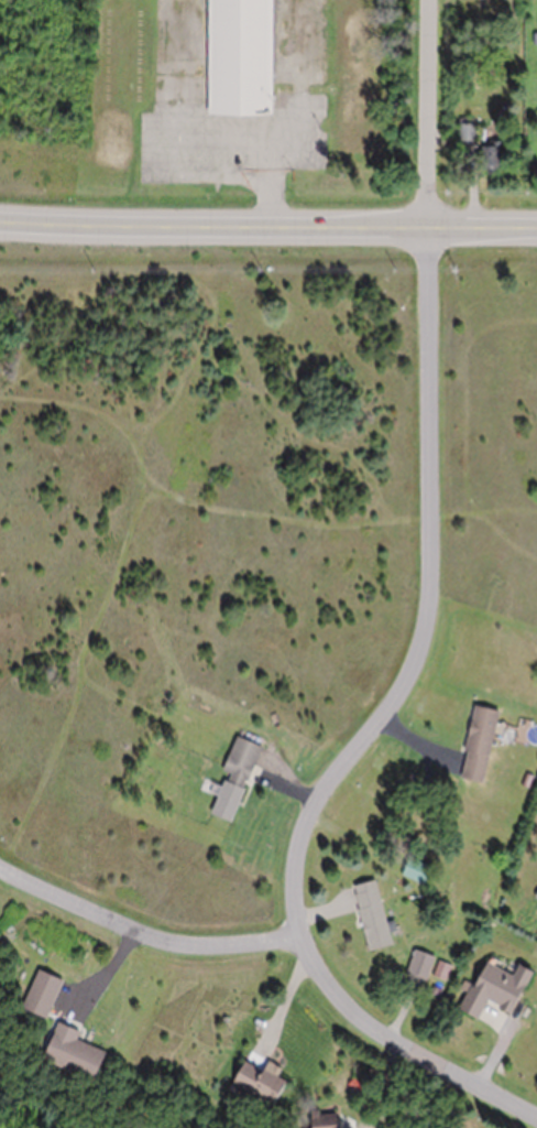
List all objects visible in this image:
building: (243, 57)
road: (424, 115)
building: (468, 132)
building: (493, 156)
road: (267, 226)
road: (372, 738)
building: (485, 745)
building: (239, 780)
building: (376, 915)
road: (144, 936)
building: (502, 989)
building: (46, 994)
building: (79, 1053)
building: (267, 1083)
building: (330, 1120)

